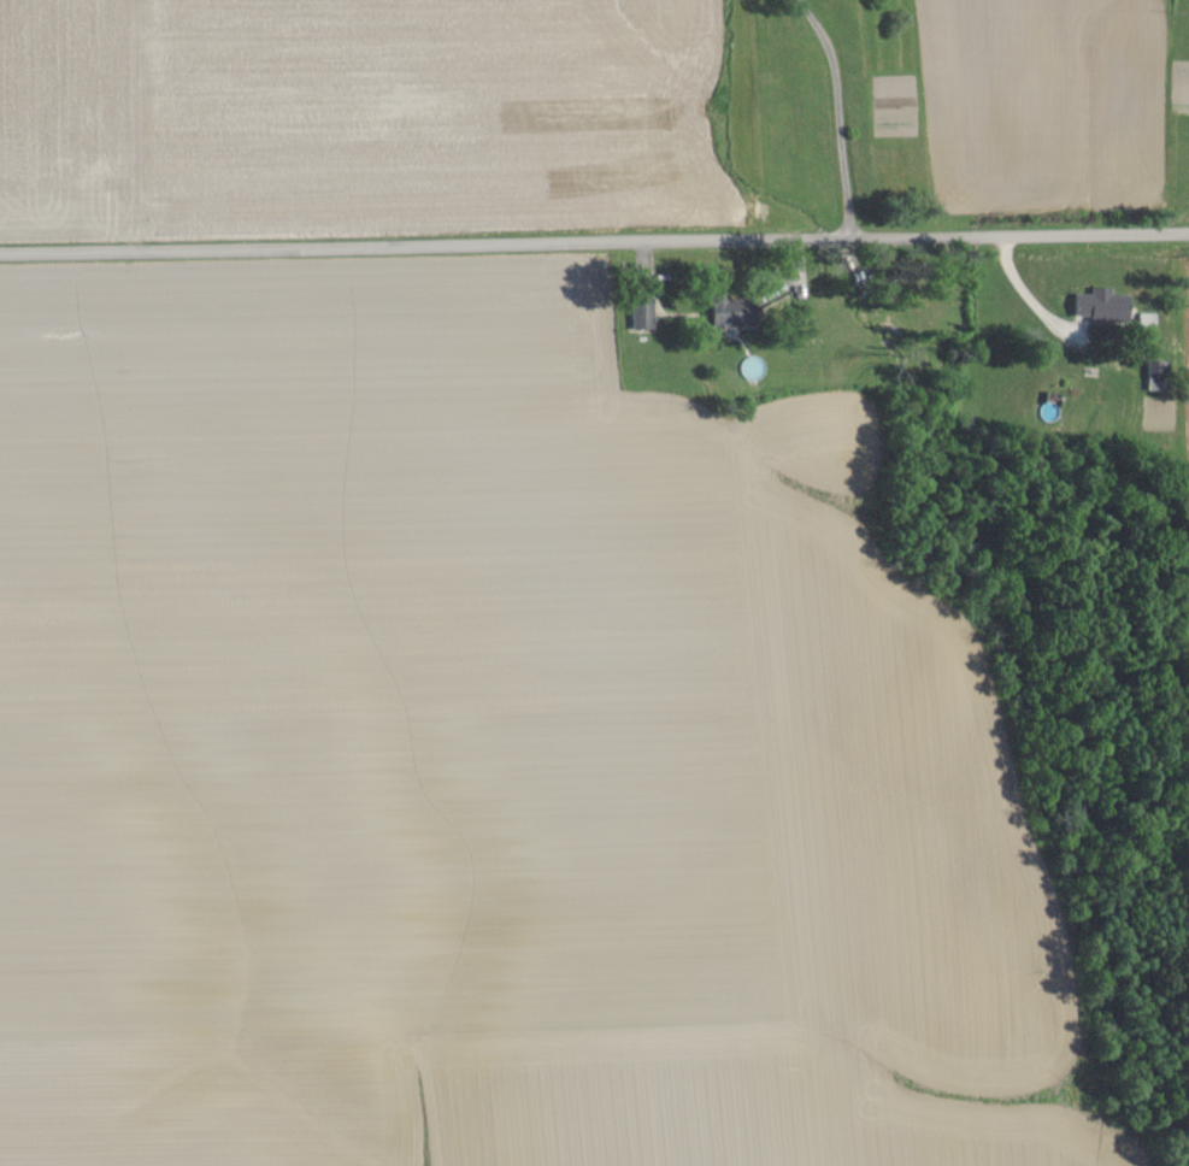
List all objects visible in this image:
road: (836, 116)
road: (594, 245)
road: (1028, 295)
building: (1087, 307)
building: (635, 316)
building: (722, 316)
building: (1140, 323)
building: (1150, 378)

